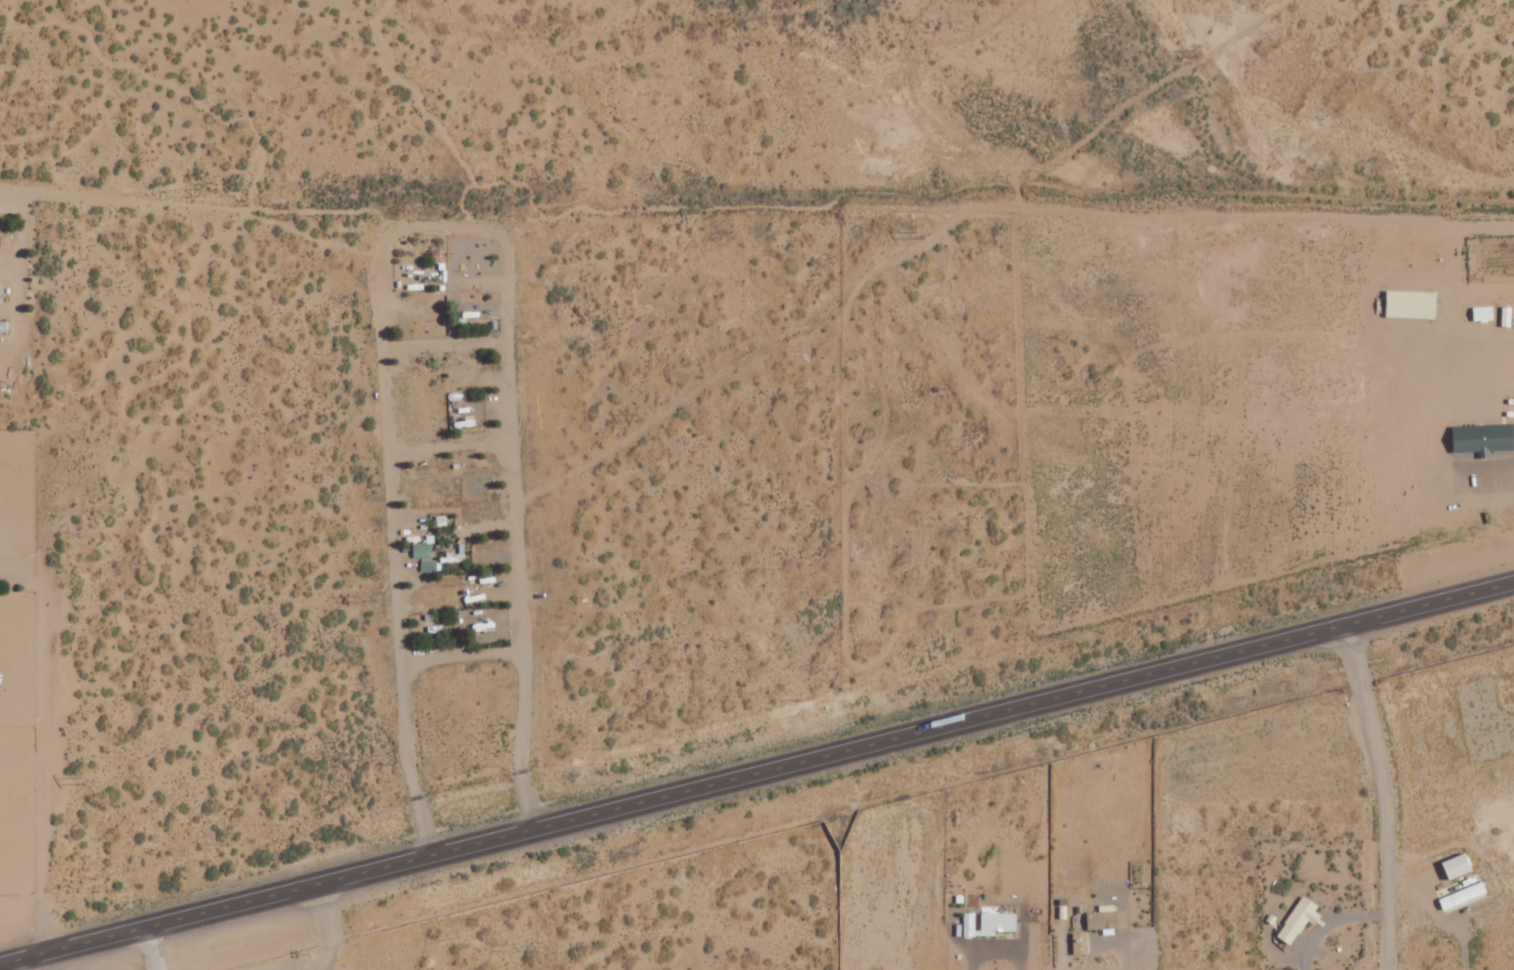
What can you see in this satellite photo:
road: (757, 178)
building: (1413, 304)
building: (1483, 439)
building: (423, 551)
road: (757, 772)
building: (1459, 866)
building: (1464, 895)
building: (1108, 919)
building: (1300, 919)
building: (1000, 922)
road: (149, 948)
road: (20, 964)

